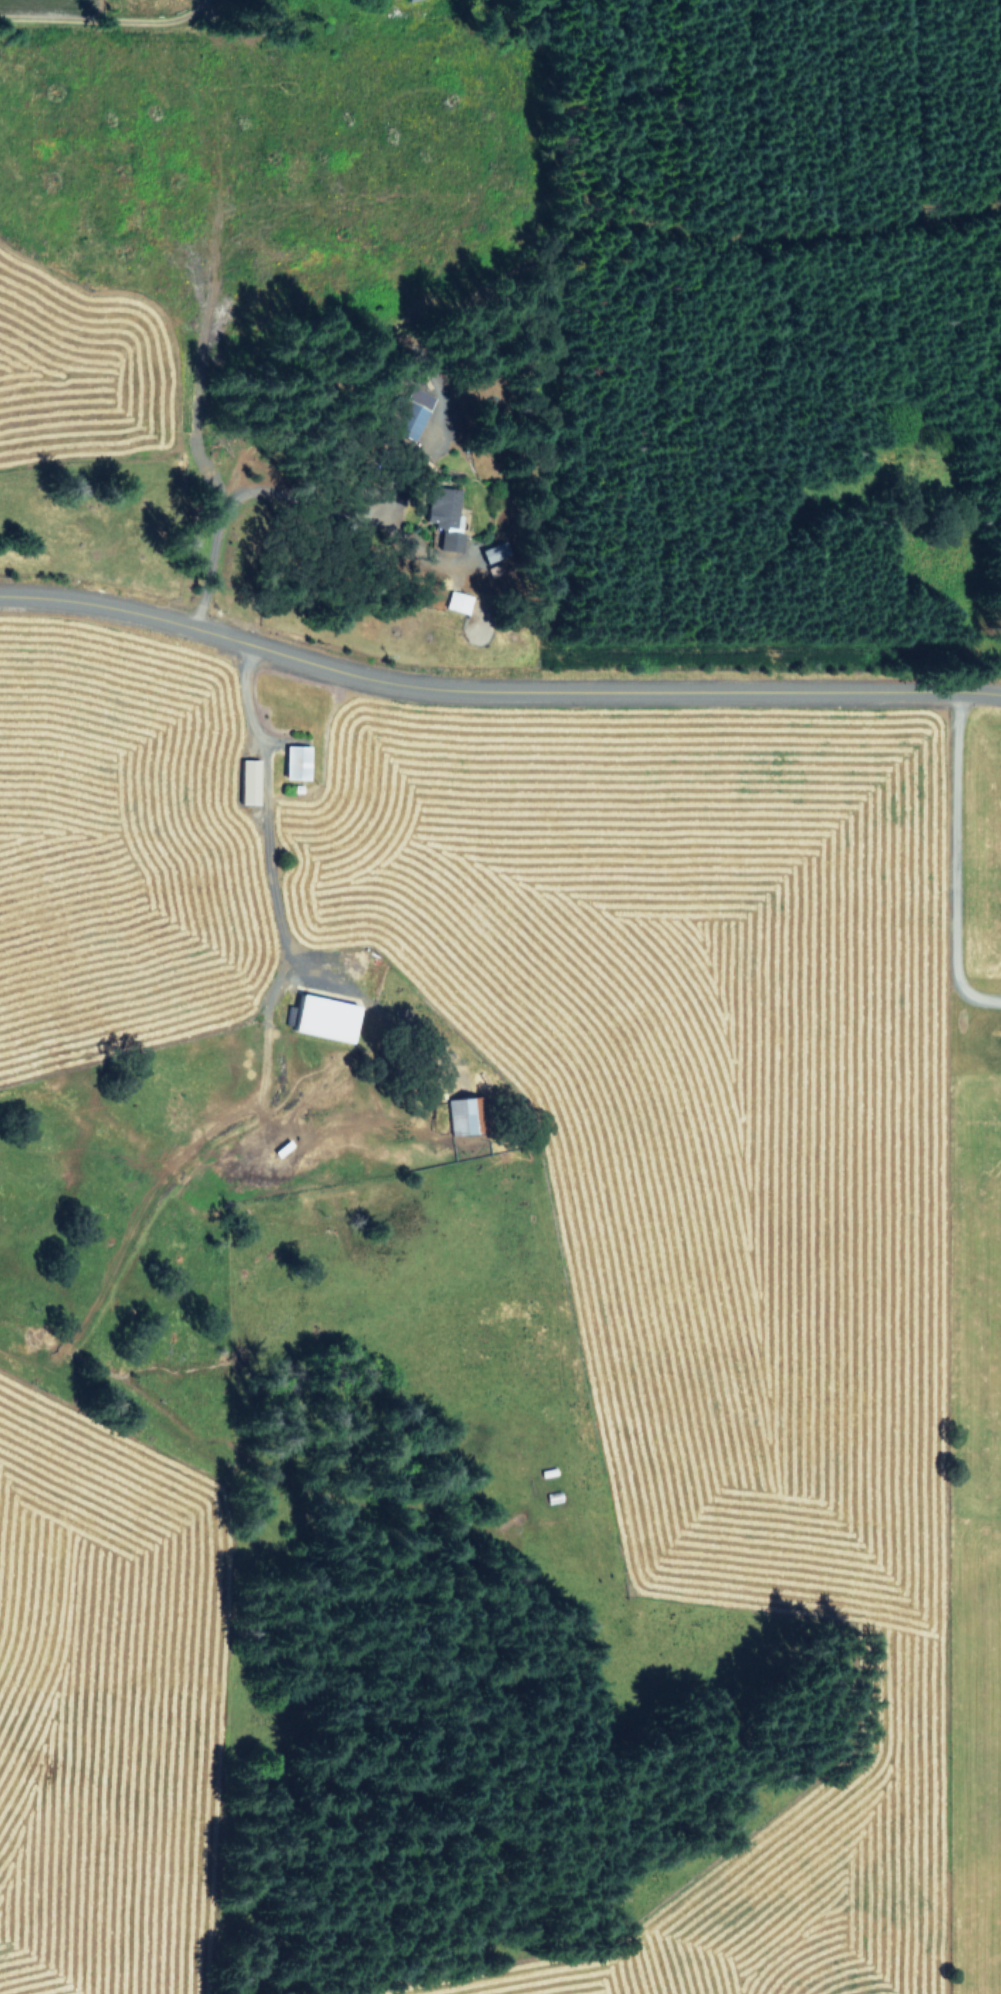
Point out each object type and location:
road: (51, 2)
building: (446, 517)
building: (458, 601)
road: (494, 694)
building: (297, 761)
building: (249, 781)
road: (959, 862)
road: (251, 914)
building: (324, 1016)
building: (459, 1114)
road: (156, 1189)
crop: (496, 1357)

